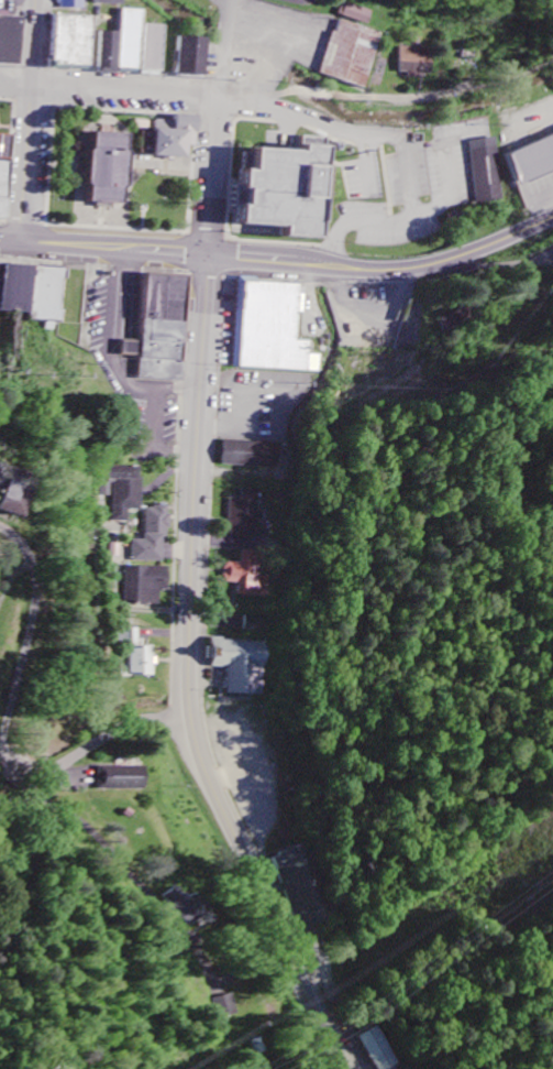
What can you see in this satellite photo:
building: (111, 2)
building: (71, 4)
road: (229, 4)
building: (356, 14)
parking lot: (291, 21)
road: (264, 29)
building: (8, 37)
building: (67, 40)
building: (118, 41)
building: (148, 45)
building: (186, 53)
building: (351, 55)
building: (416, 62)
road: (110, 84)
road: (389, 97)
road: (30, 120)
road: (217, 131)
building: (173, 138)
road: (367, 160)
building: (533, 161)
road: (405, 163)
building: (3, 166)
building: (103, 166)
building: (489, 172)
parking lot: (398, 176)
building: (279, 188)
road: (452, 189)
road: (12, 240)
road: (115, 247)
traffic signals: (208, 253)
road: (498, 257)
road: (385, 266)
building: (0, 283)
building: (35, 292)
road: (375, 316)
building: (158, 323)
building: (275, 331)
road: (113, 371)
parking lot: (262, 406)
road: (241, 425)
building: (252, 456)
building: (125, 490)
building: (246, 514)
building: (154, 538)
building: (248, 575)
building: (146, 586)
building: (256, 624)
road: (24, 628)
building: (136, 657)
building: (240, 666)
road: (186, 679)
road: (85, 740)
building: (122, 779)
road: (27, 861)
road: (129, 868)
building: (299, 872)
building: (376, 1049)

